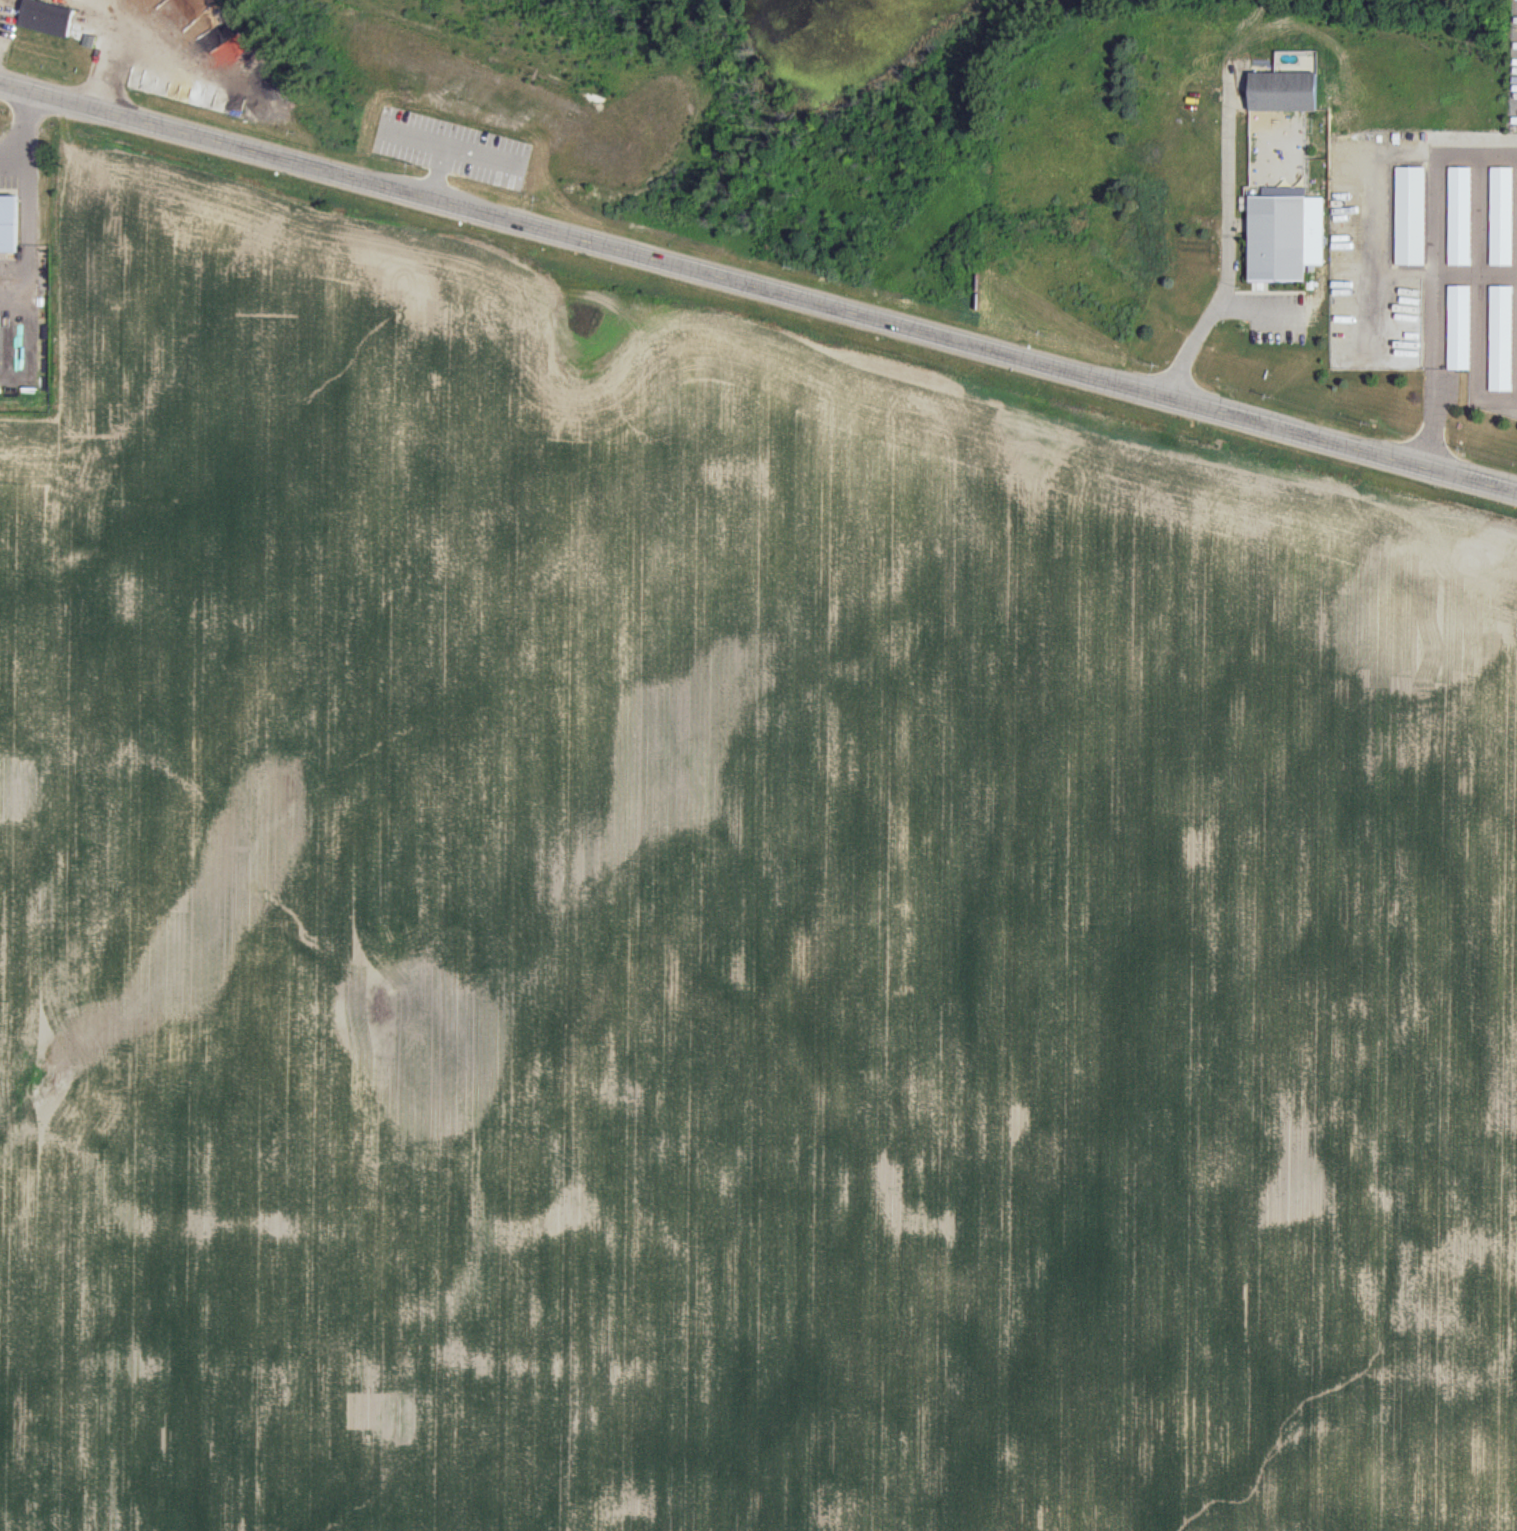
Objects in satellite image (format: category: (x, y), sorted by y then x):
building: (45, 18)
building: (85, 41)
building: (1281, 92)
road: (23, 135)
road: (450, 146)
road: (437, 172)
road: (1228, 193)
building: (1500, 215)
building: (1458, 217)
building: (6, 224)
building: (1276, 239)
road: (1435, 271)
road: (758, 287)
road: (1201, 327)
building: (1457, 328)
building: (1499, 339)
crop: (724, 911)

